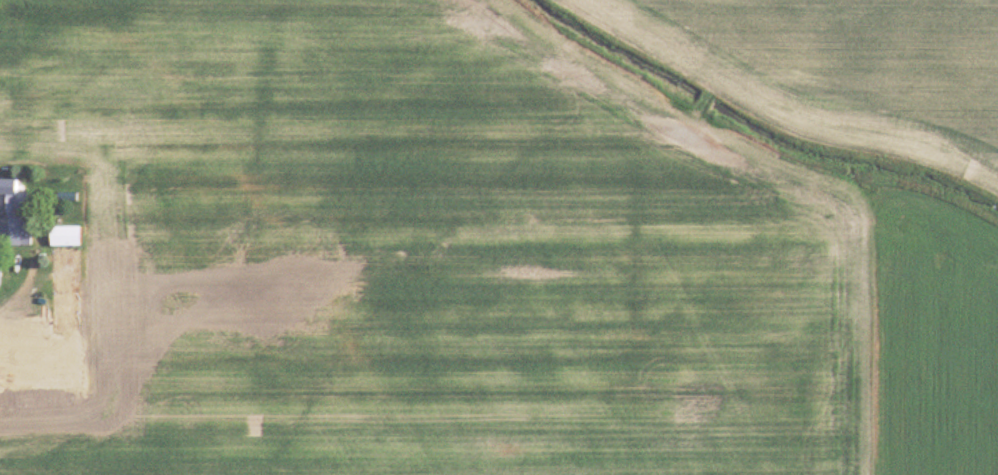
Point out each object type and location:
building: (14, 213)
building: (63, 235)
building: (62, 270)
building: (22, 333)

